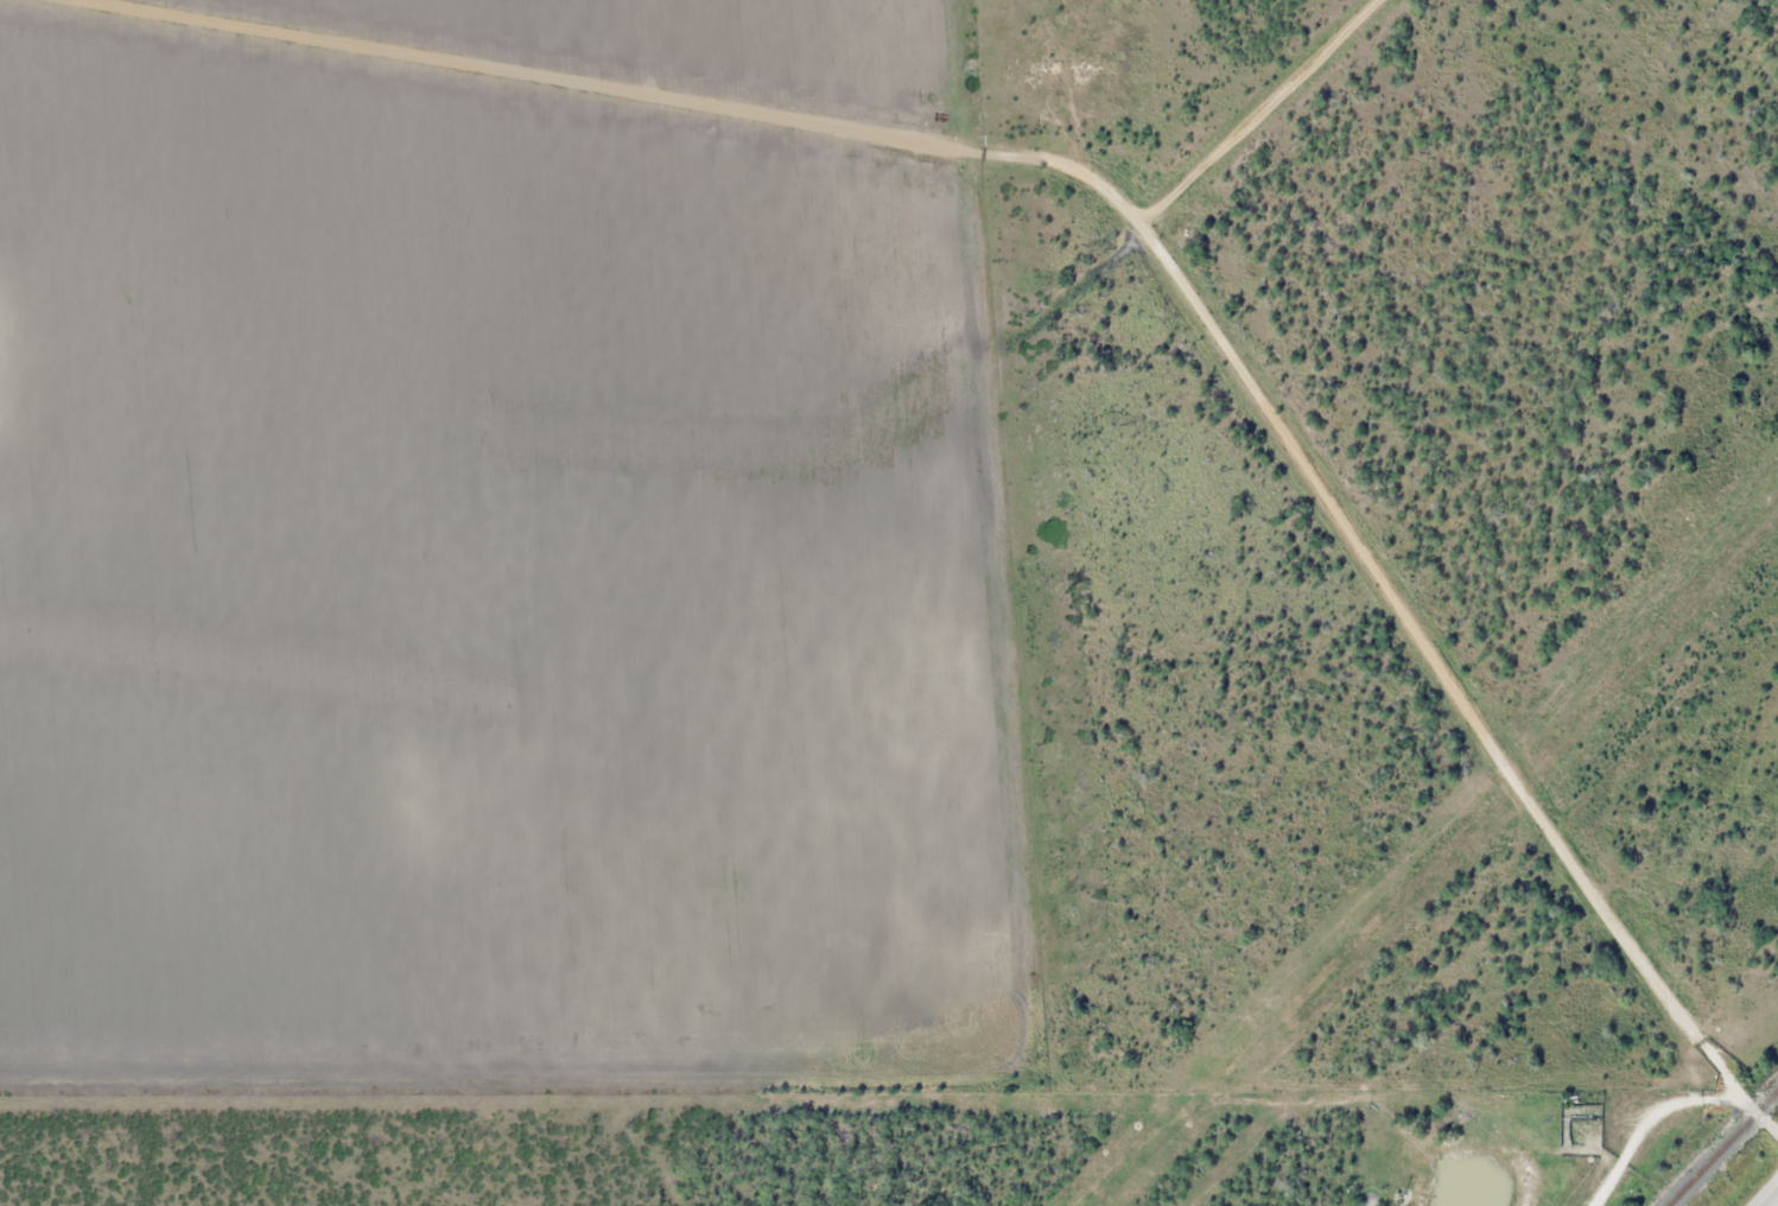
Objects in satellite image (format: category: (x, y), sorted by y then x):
road: (1149, 252)
road: (1649, 1121)
railway: (1723, 1148)
road: (1772, 1200)

